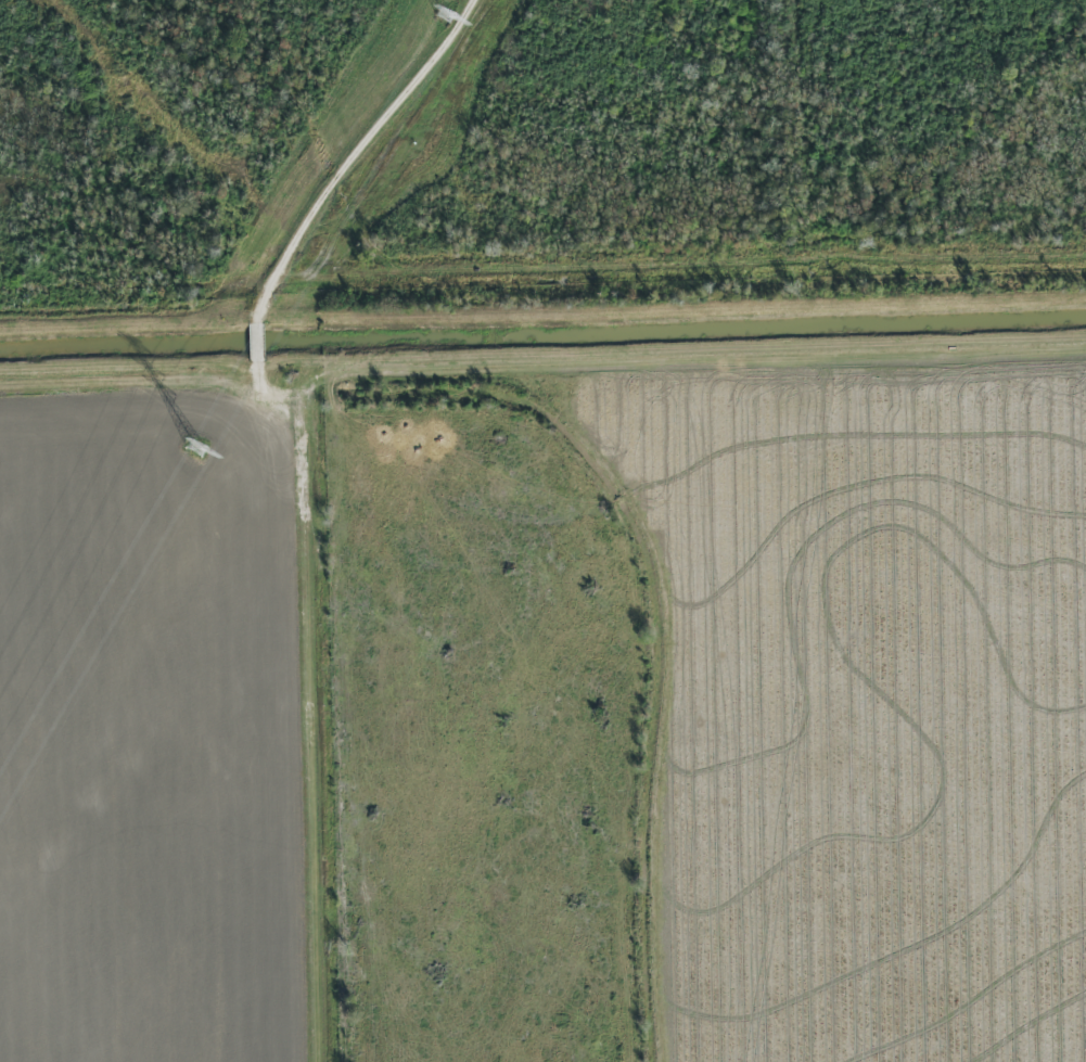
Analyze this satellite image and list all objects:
power tower: (447, 16)
road: (363, 157)
road: (542, 318)
road: (261, 347)
road: (542, 361)
power tower: (197, 448)
road: (319, 715)

